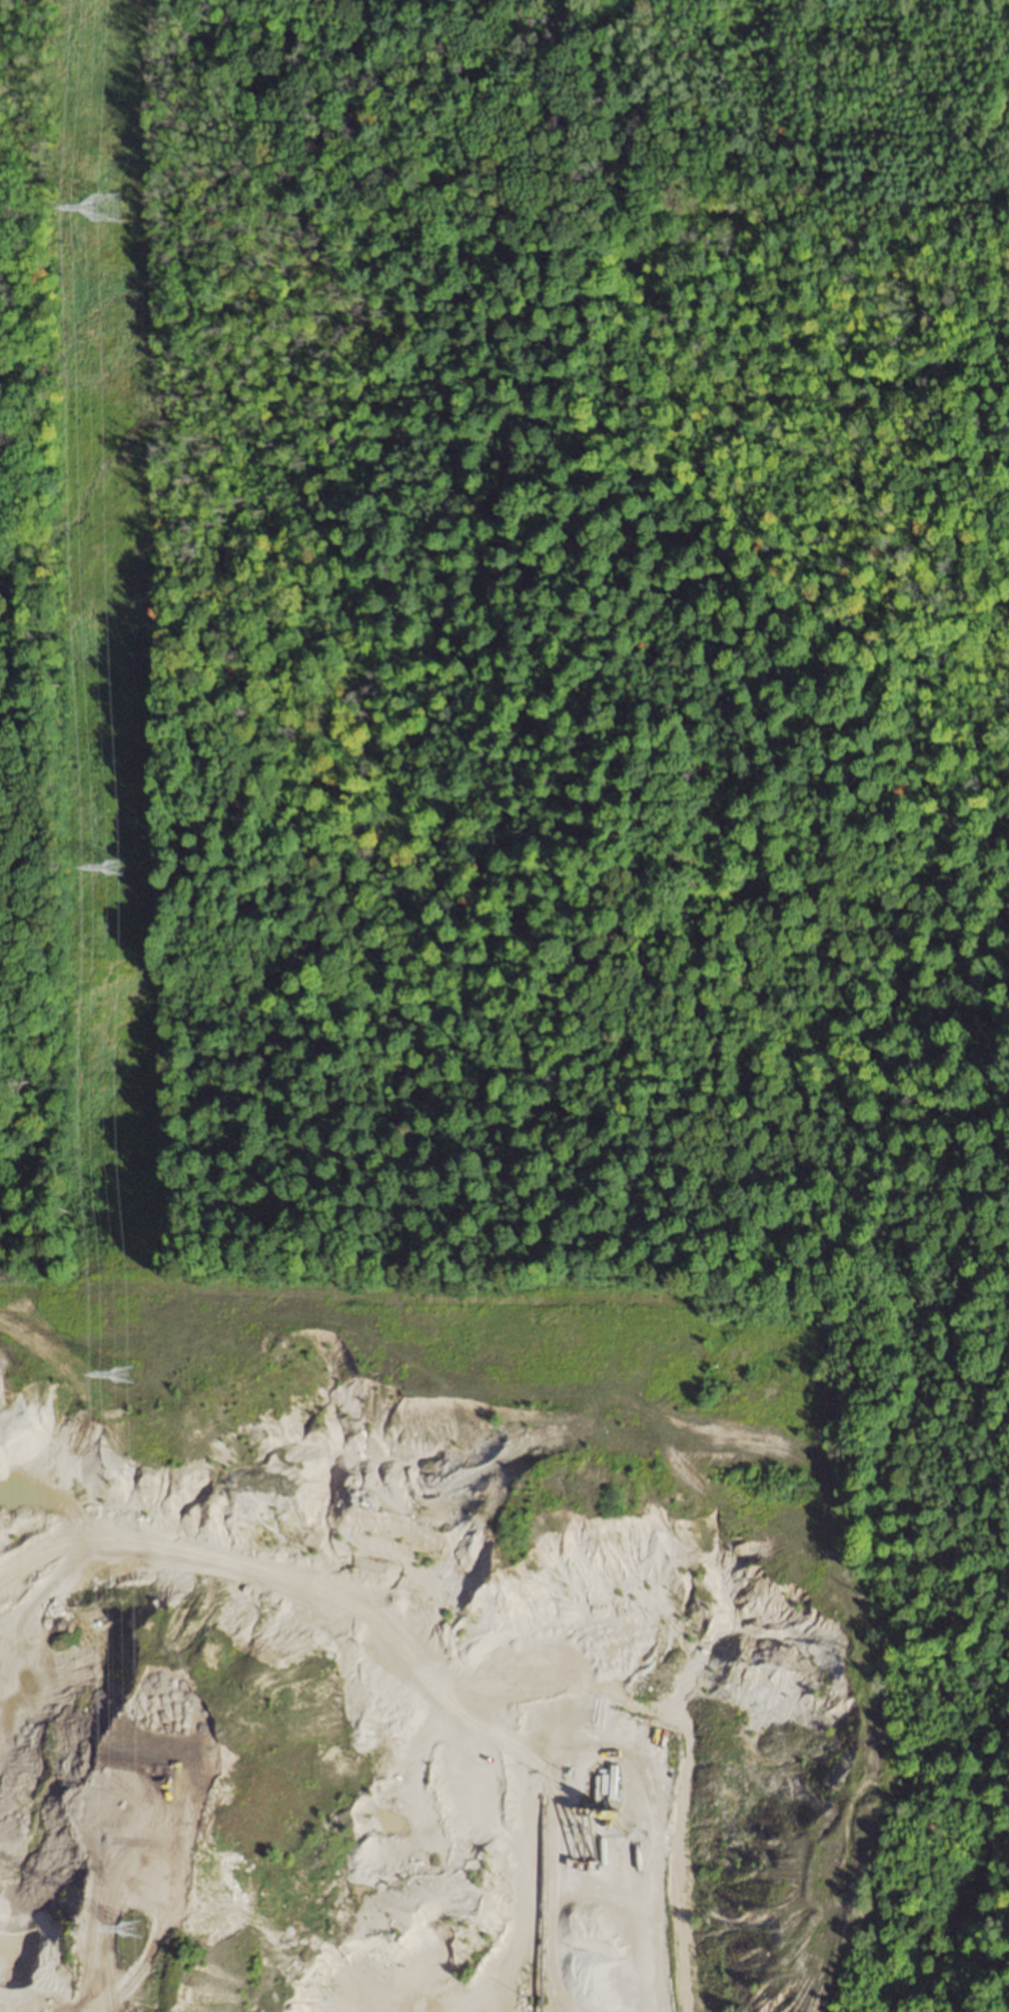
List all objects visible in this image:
power tower: (102, 206)
power tower: (114, 867)
power tower: (122, 1373)
quarry: (544, 1719)
power tower: (128, 1927)

